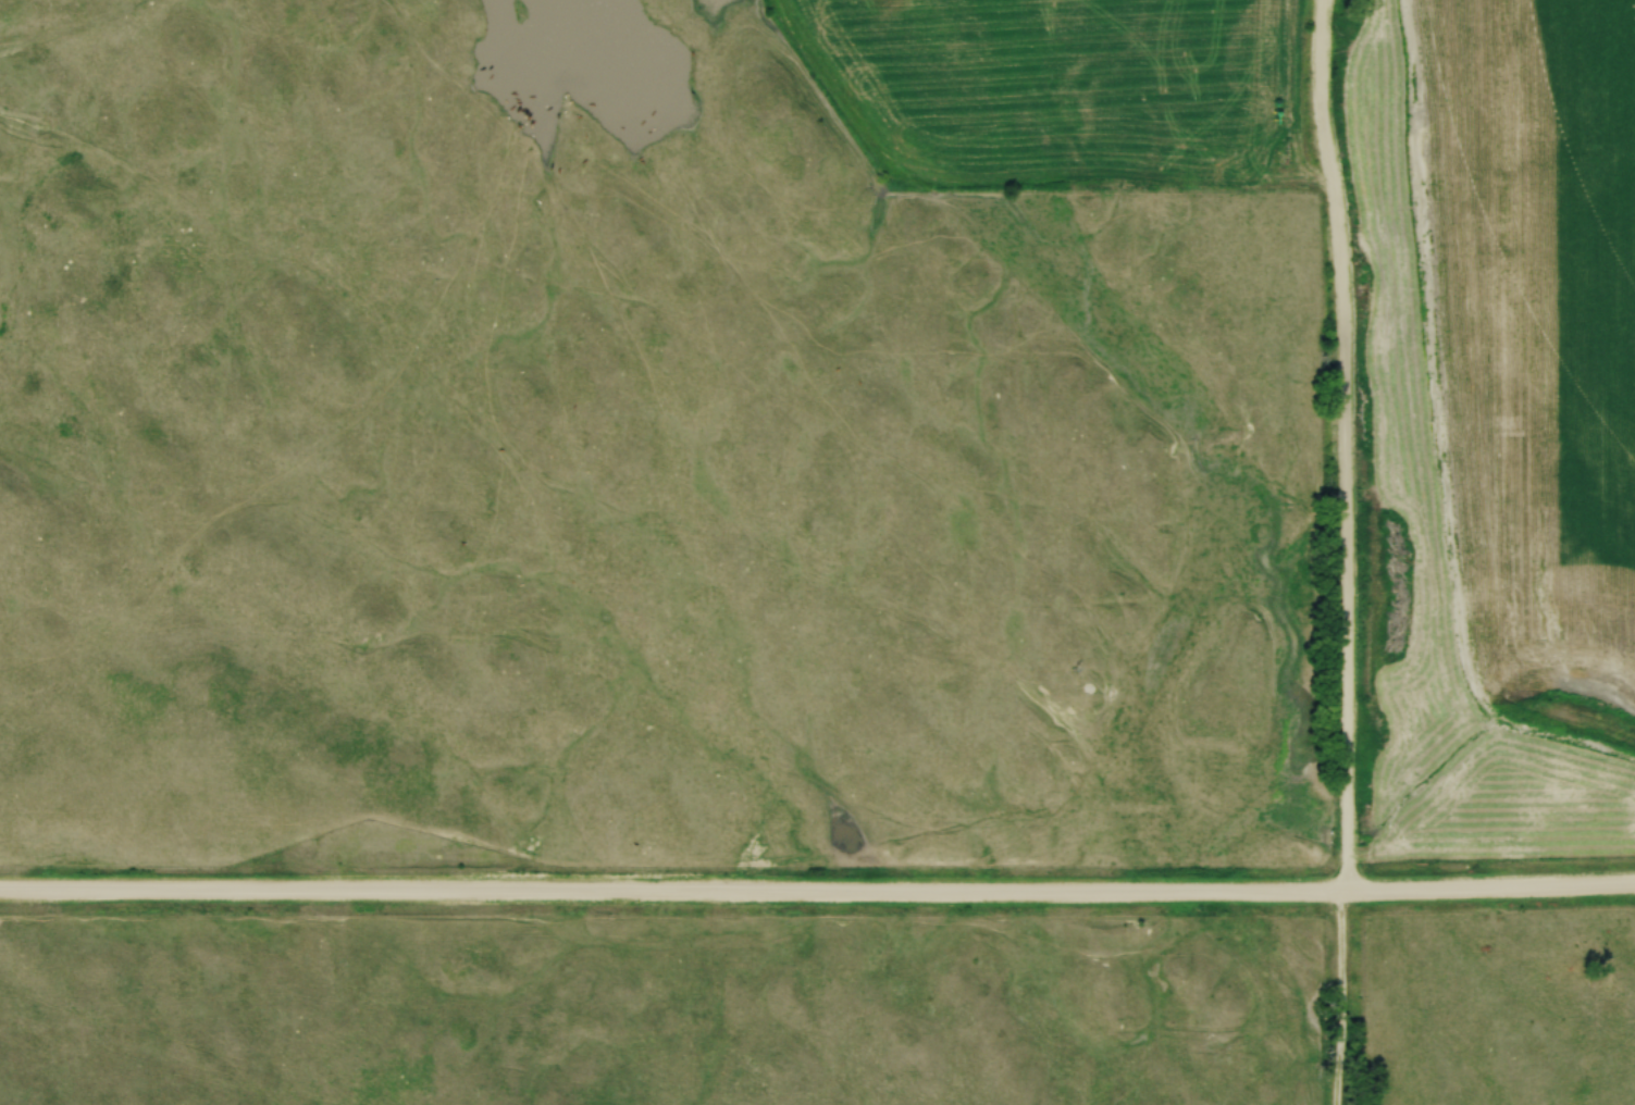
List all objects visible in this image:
road: (1343, 551)
road: (817, 893)

